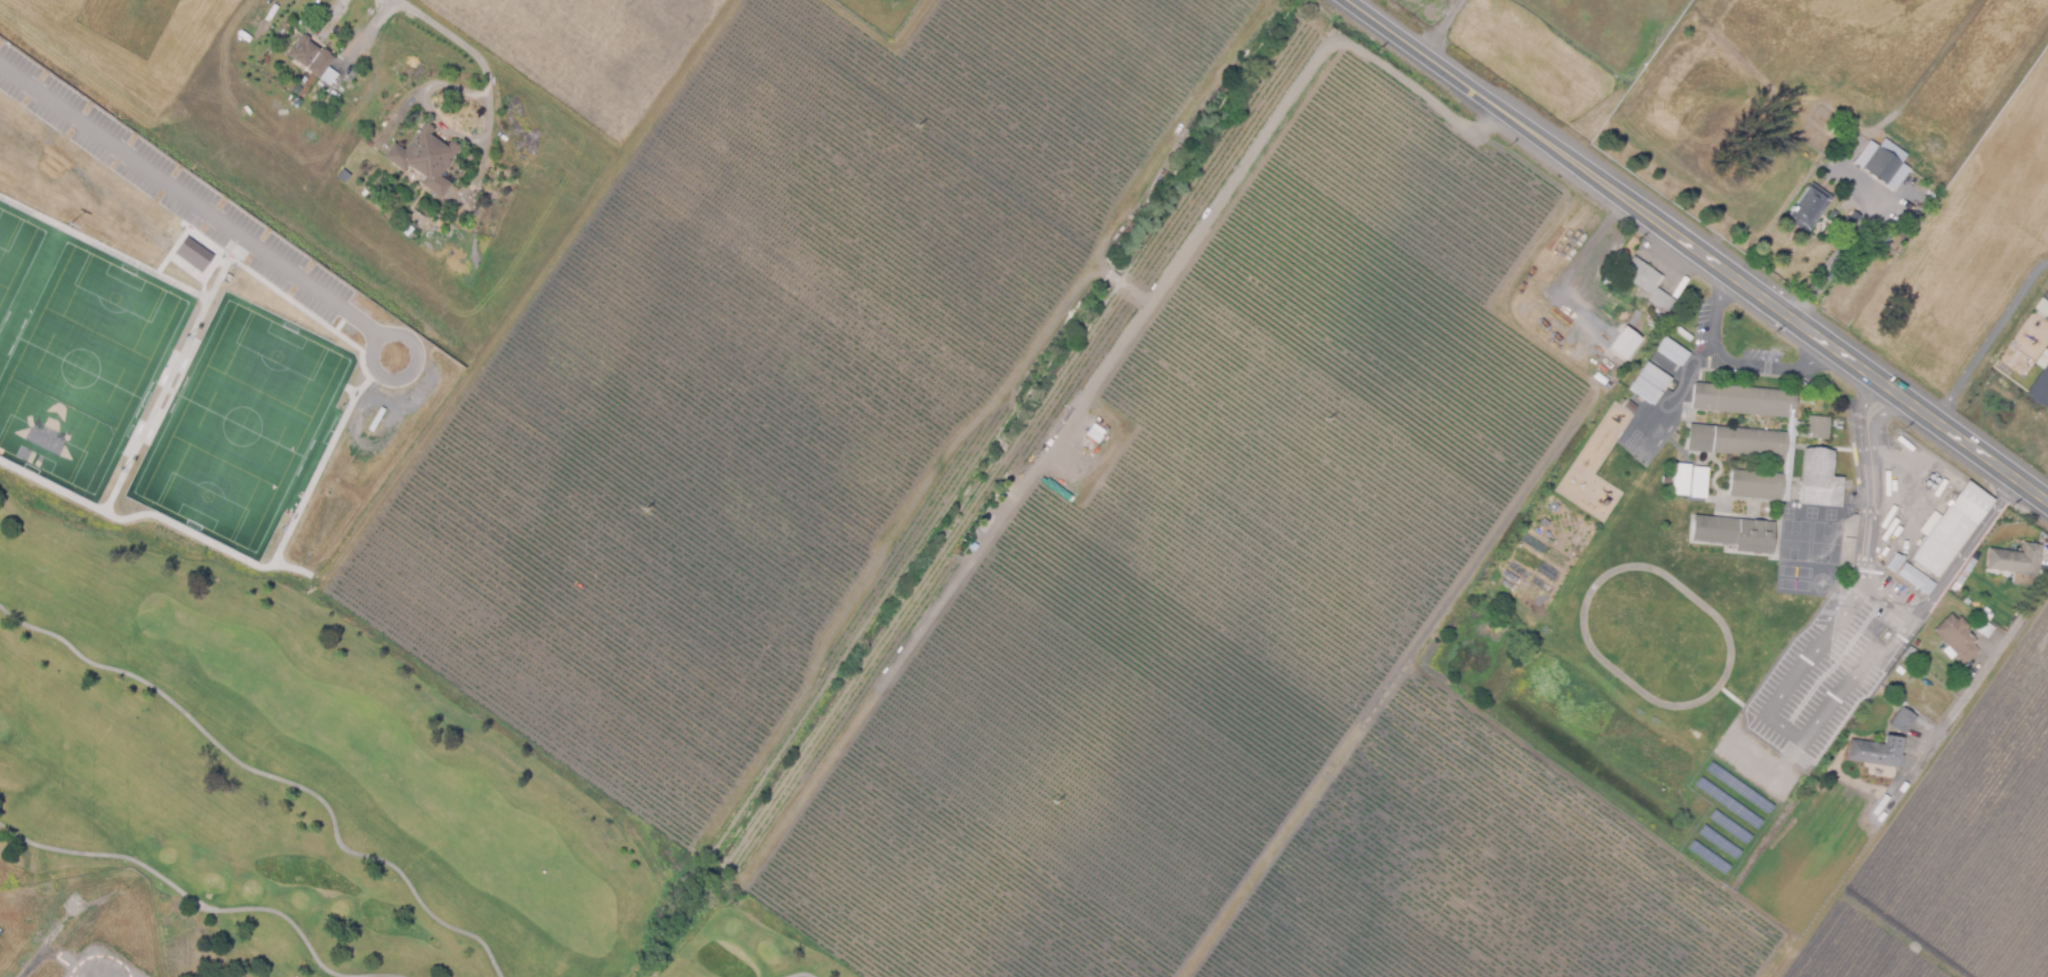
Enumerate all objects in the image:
road: (1438, 26)
road: (449, 33)
building: (311, 57)
road: (447, 129)
road: (1250, 157)
building: (426, 159)
building: (1883, 163)
road: (191, 196)
building: (1809, 206)
building: (1853, 220)
road: (1696, 252)
road: (1842, 253)
building: (192, 254)
building: (1647, 282)
road: (1989, 340)
building: (1623, 342)
building: (1671, 349)
road: (1733, 360)
building: (1648, 382)
building: (2040, 386)
road: (1866, 410)
road: (1884, 416)
building: (1754, 434)
building: (1823, 474)
building: (1680, 477)
building: (1699, 481)
road: (1871, 510)
building: (1952, 527)
building: (1734, 531)
road: (1963, 552)
building: (2017, 558)
building: (1896, 561)
building: (1969, 569)
building: (1917, 578)
building: (1986, 628)
building: (1958, 635)
road: (1962, 699)
building: (1904, 718)
road: (1807, 738)
building: (1880, 750)
park: (314, 788)

